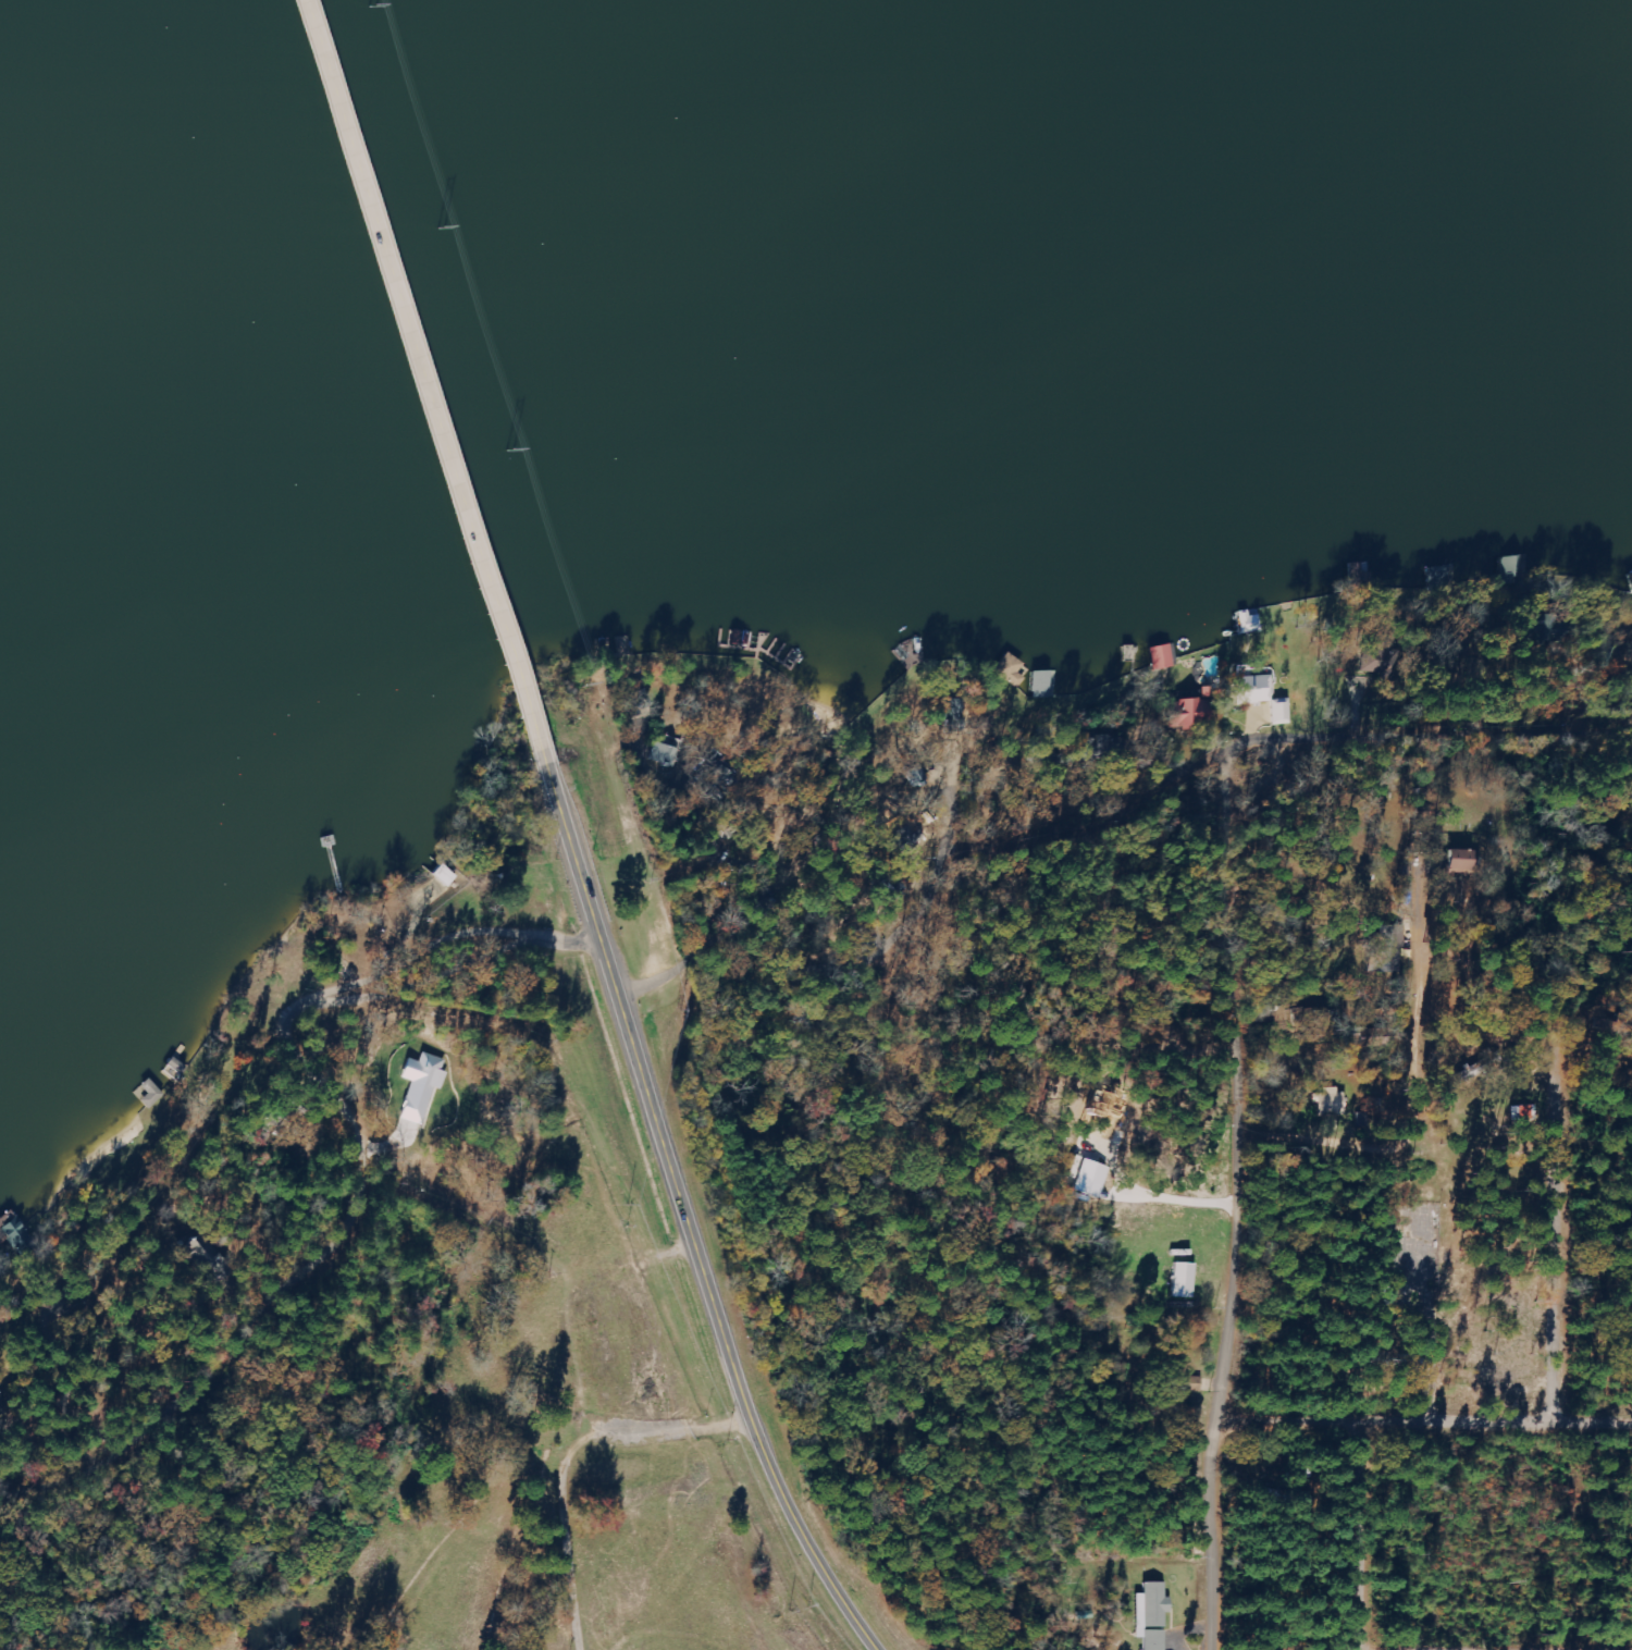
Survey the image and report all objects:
road: (423, 389)
building: (1161, 656)
building: (1376, 658)
building: (1010, 669)
road: (1487, 682)
building: (1251, 689)
building: (1186, 712)
building: (1281, 712)
road: (1531, 722)
road: (1324, 724)
road: (713, 728)
road: (959, 798)
road: (1083, 812)
road: (641, 829)
building: (1455, 859)
building: (447, 876)
building: (1392, 948)
road: (1414, 1082)
building: (1332, 1104)
building: (1524, 1113)
road: (270, 1116)
road: (702, 1220)
road: (1558, 1234)
building: (1183, 1280)
road: (236, 1326)
road: (1225, 1377)
road: (1425, 1425)
road: (1356, 1537)
building: (1151, 1615)

